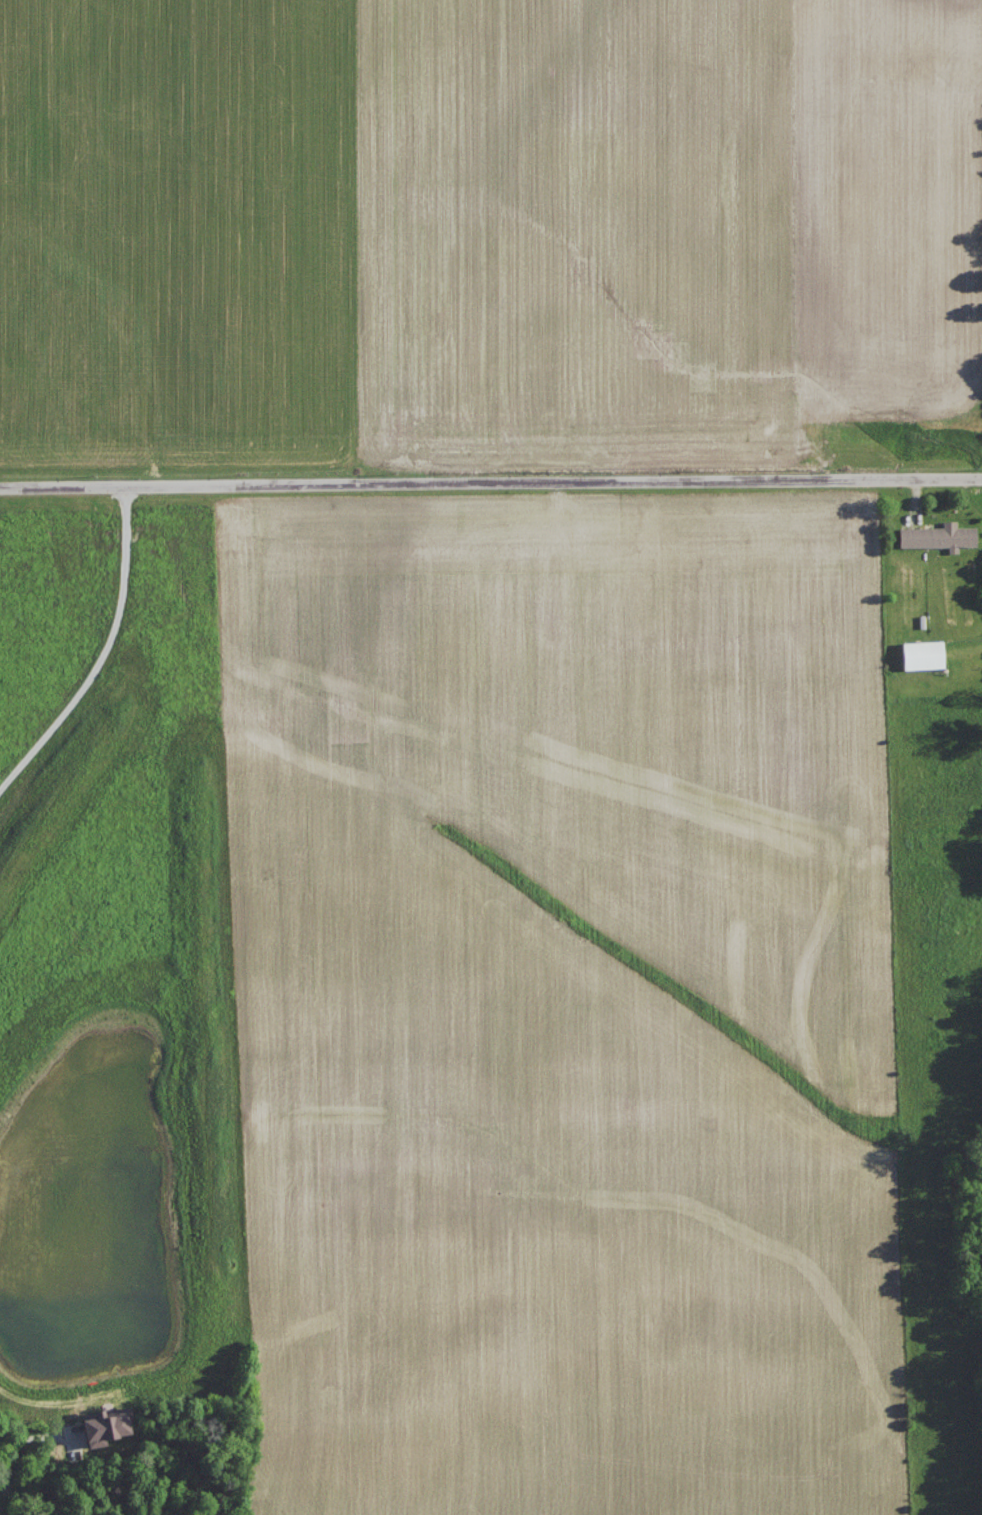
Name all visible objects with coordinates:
road: (490, 480)
building: (942, 536)
road: (103, 648)
building: (929, 654)
road: (27, 1391)
building: (112, 1425)

